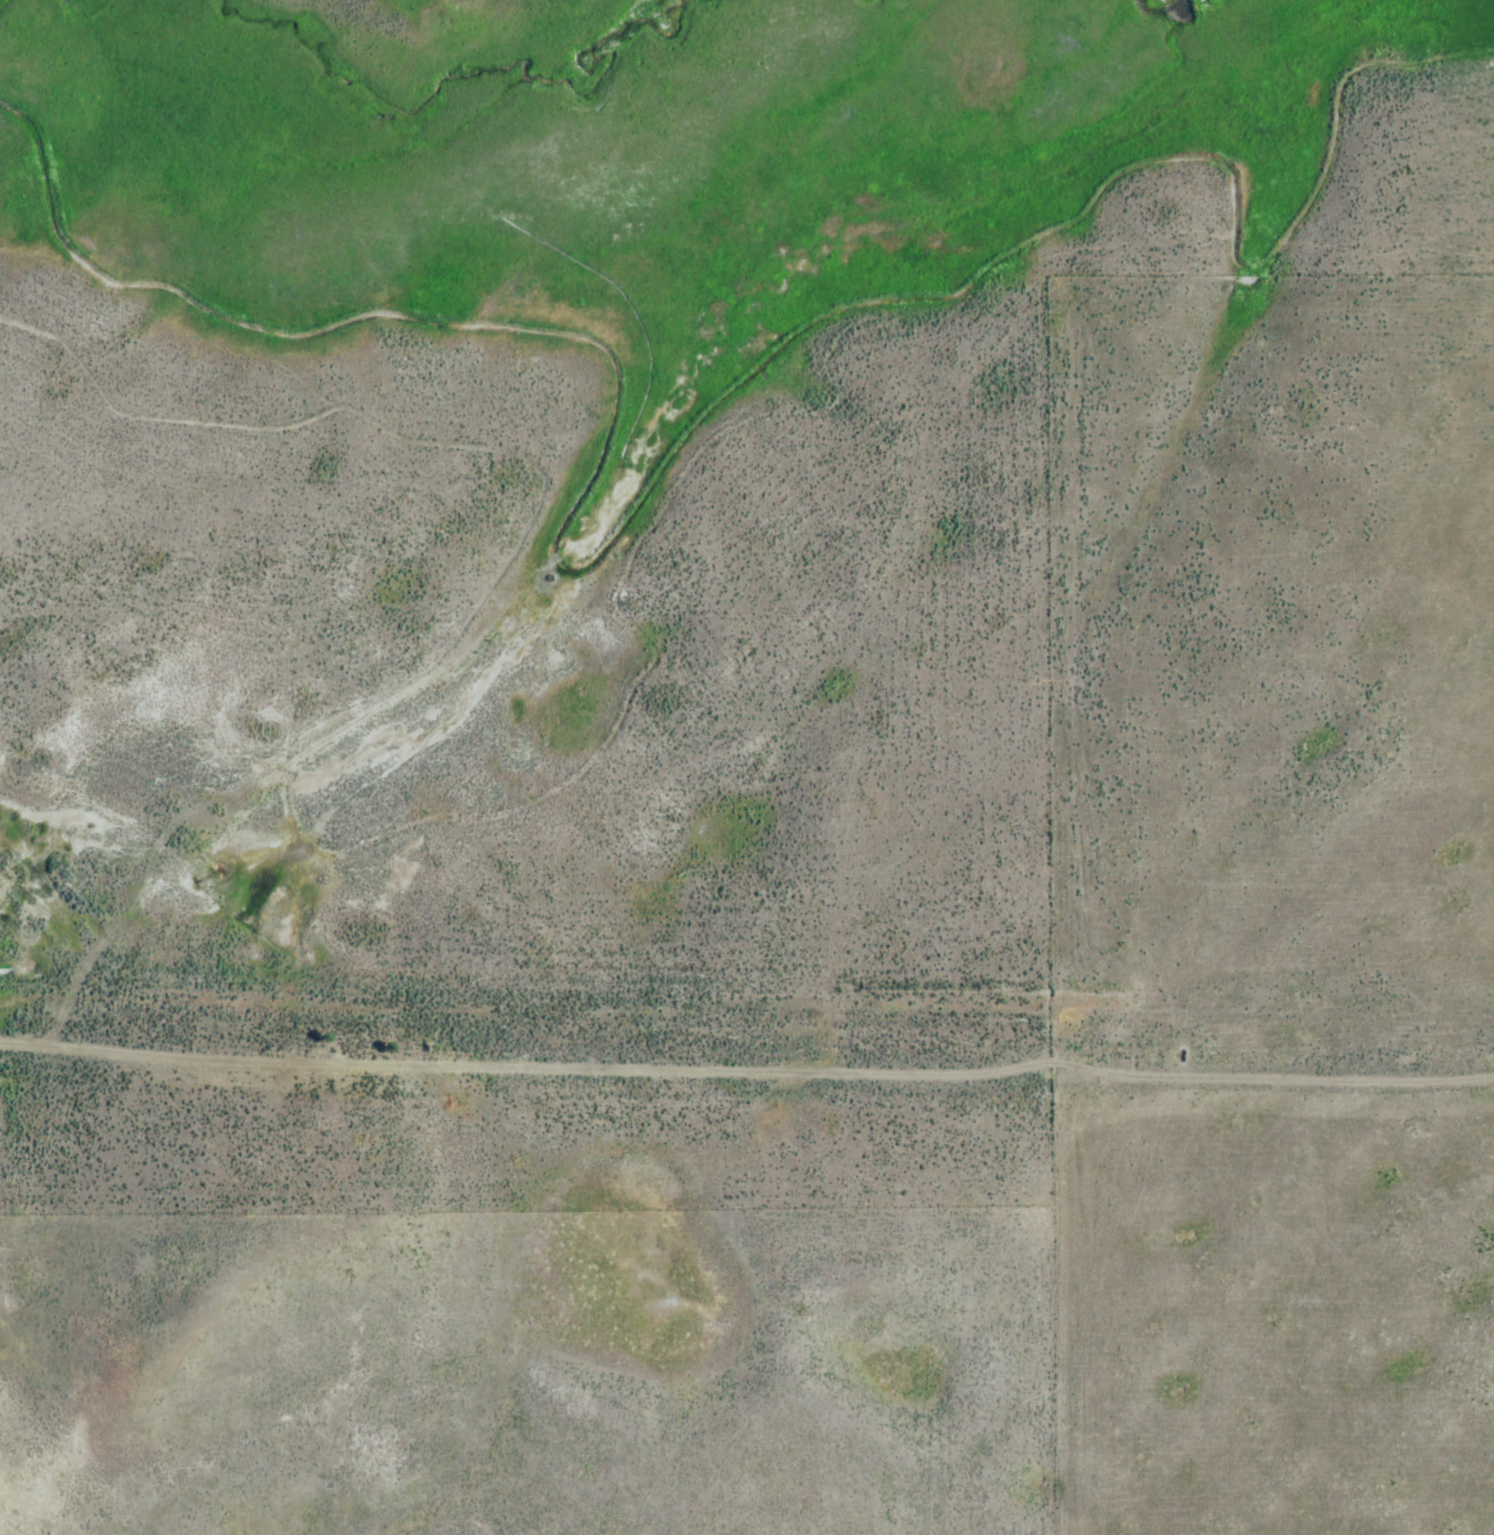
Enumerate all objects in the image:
road: (746, 1140)

